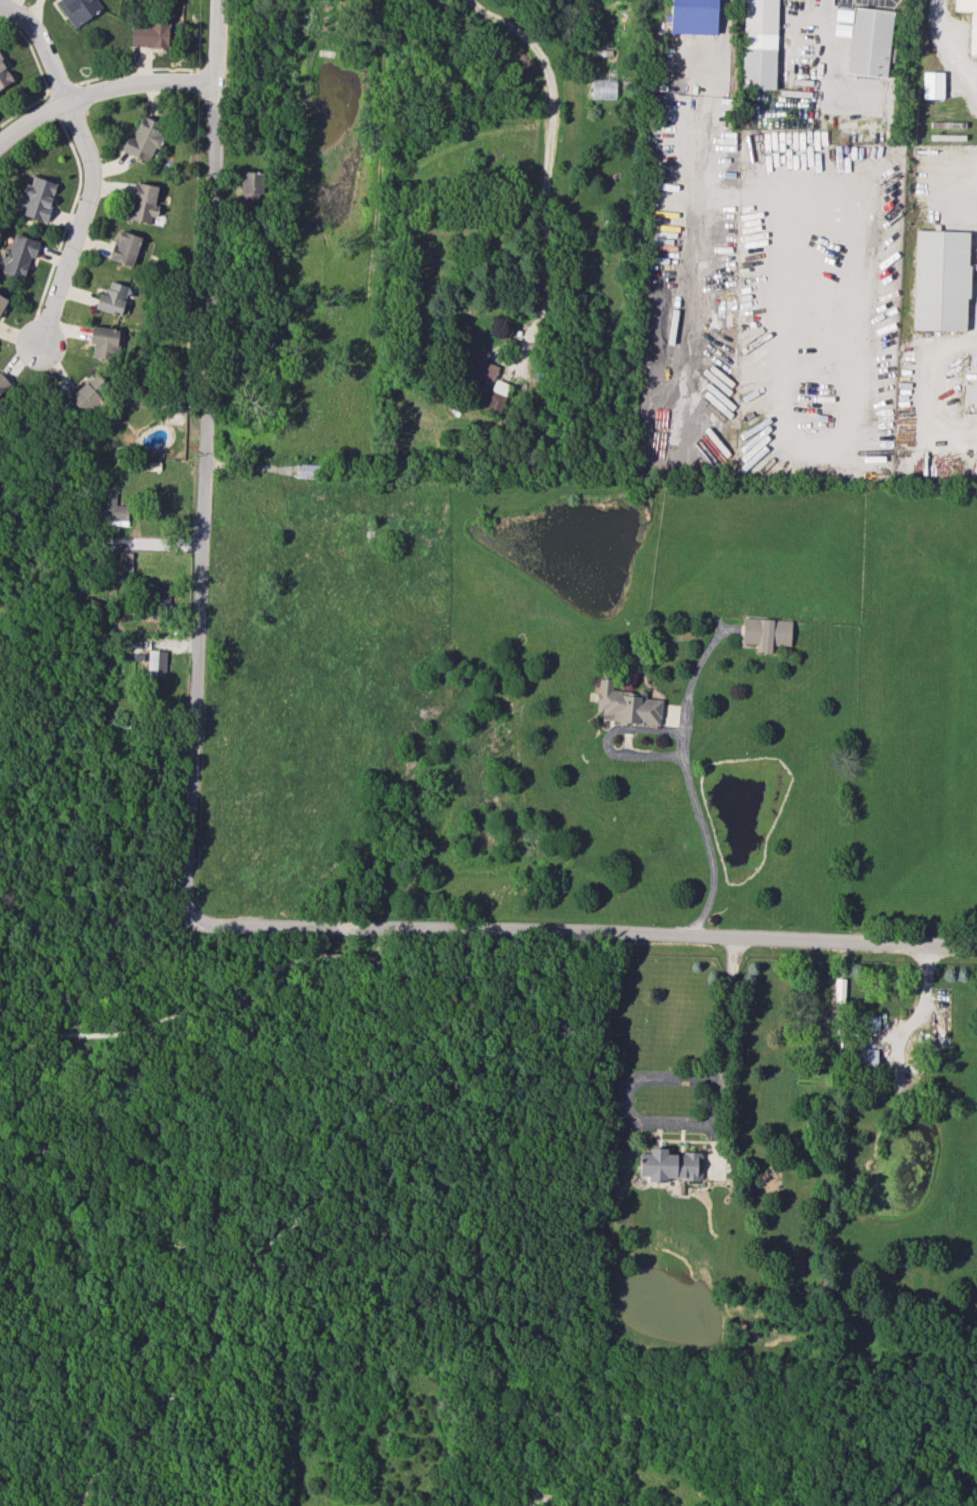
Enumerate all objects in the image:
building: (78, 9)
building: (693, 16)
building: (973, 33)
building: (149, 34)
road: (950, 38)
building: (868, 42)
building: (758, 44)
building: (4, 75)
road: (56, 81)
road: (137, 83)
building: (932, 84)
building: (603, 88)
road: (706, 134)
building: (144, 140)
road: (547, 156)
building: (250, 188)
building: (38, 198)
building: (143, 202)
road: (73, 235)
building: (126, 248)
building: (18, 255)
building: (940, 280)
building: (112, 298)
building: (2, 301)
building: (103, 342)
building: (480, 368)
building: (2, 383)
road: (922, 390)
building: (88, 392)
building: (496, 397)
building: (111, 510)
building: (160, 601)
building: (766, 633)
building: (156, 663)
building: (626, 705)
road: (685, 756)
road: (185, 852)
road: (341, 954)
road: (161, 1020)
building: (867, 1021)
building: (866, 1056)
road: (698, 1126)
building: (669, 1165)
park: (356, 1228)
road: (270, 1243)
road: (545, 1501)

